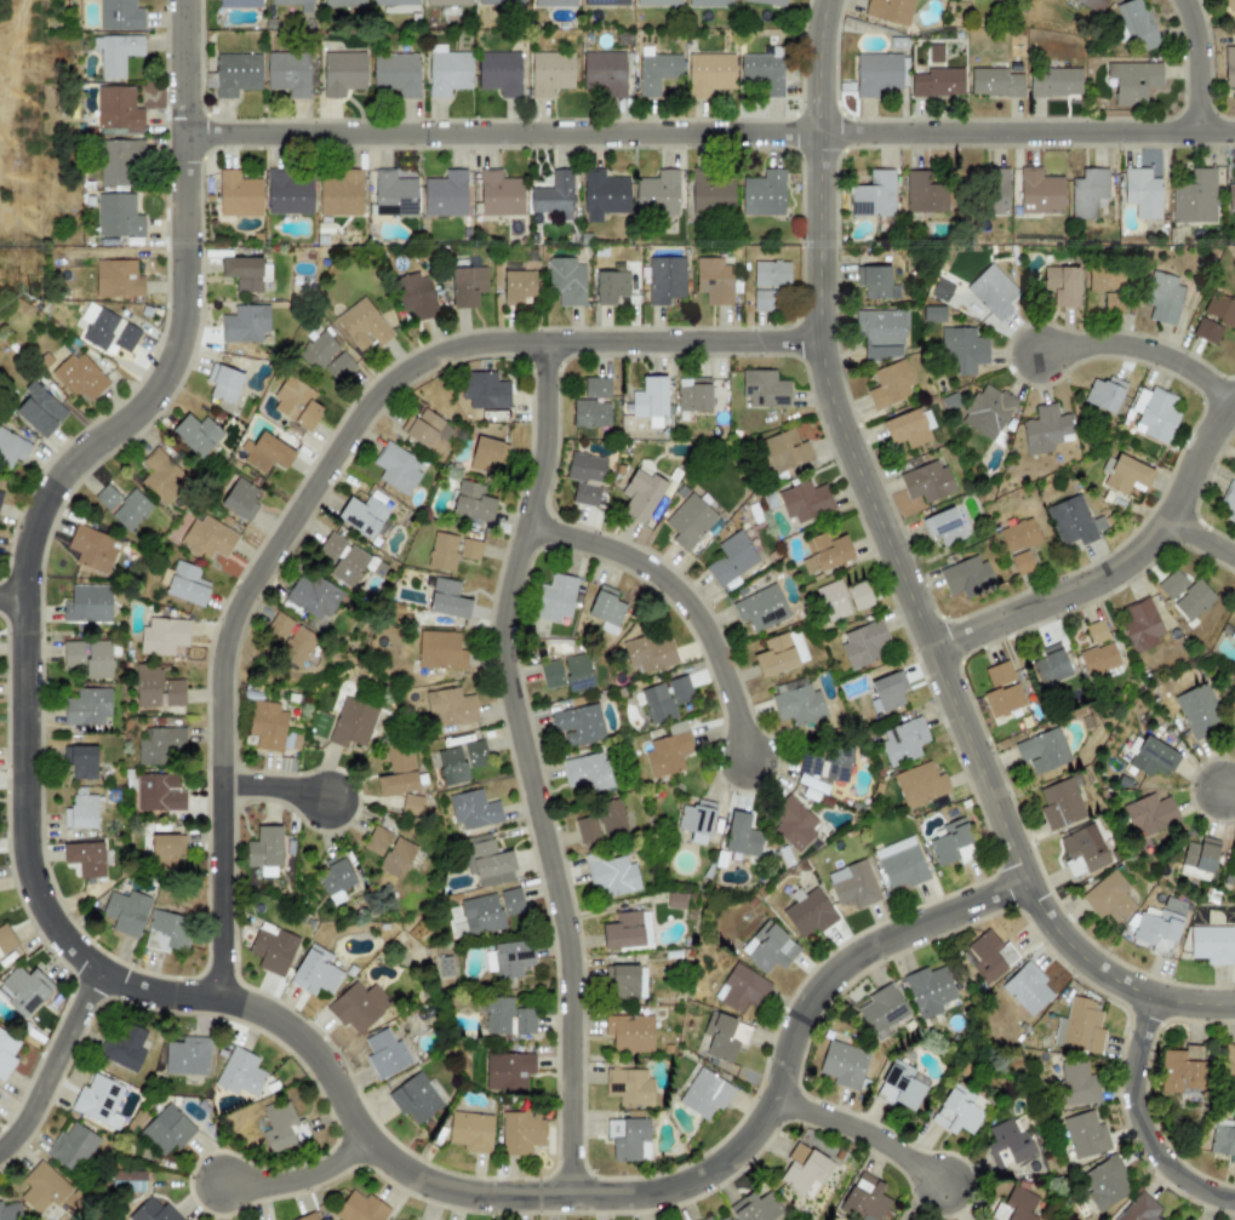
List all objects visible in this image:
building: (291, 1)
building: (501, 1)
building: (607, 1)
building: (657, 1)
building: (395, 2)
building: (450, 2)
building: (768, 2)
building: (239, 4)
building: (344, 4)
building: (555, 4)
building: (709, 4)
building: (1230, 4)
building: (1093, 5)
building: (890, 11)
building: (120, 15)
building: (1134, 24)
building: (116, 53)
road: (1191, 64)
building: (1229, 68)
building: (764, 69)
building: (447, 70)
building: (656, 70)
building: (290, 73)
building: (343, 73)
building: (501, 73)
building: (551, 73)
building: (605, 73)
building: (710, 73)
building: (879, 73)
building: (236, 74)
building: (396, 74)
building: (1132, 81)
building: (937, 82)
building: (994, 82)
building: (1053, 82)
building: (118, 109)
road: (709, 130)
building: (121, 165)
building: (341, 193)
building: (710, 193)
building: (994, 193)
building: (1039, 193)
building: (1087, 193)
building: (1142, 193)
building: (499, 194)
building: (924, 194)
building: (239, 195)
building: (288, 195)
building: (394, 195)
building: (446, 195)
building: (604, 195)
building: (762, 195)
building: (874, 195)
building: (657, 196)
building: (1230, 196)
building: (554, 197)
building: (1194, 199)
building: (119, 217)
building: (244, 274)
building: (771, 274)
building: (118, 280)
building: (665, 280)
building: (714, 281)
building: (566, 283)
building: (875, 283)
building: (467, 286)
building: (1062, 286)
building: (1108, 286)
building: (519, 287)
building: (611, 287)
building: (939, 291)
building: (993, 292)
building: (412, 296)
building: (1163, 299)
building: (765, 300)
building: (1220, 310)
building: (933, 315)
building: (246, 325)
building: (367, 325)
building: (108, 330)
building: (881, 334)
road: (1147, 349)
building: (962, 350)
building: (326, 357)
building: (81, 377)
building: (224, 384)
building: (890, 385)
building: (596, 388)
building: (485, 389)
building: (765, 390)
building: (693, 395)
building: (1104, 395)
building: (650, 399)
building: (297, 402)
building: (39, 411)
building: (987, 412)
building: (1155, 416)
building: (590, 417)
building: (423, 428)
building: (908, 429)
building: (1046, 430)
building: (196, 435)
building: (11, 448)
building: (268, 452)
building: (783, 452)
building: (487, 453)
building: (395, 468)
road: (318, 470)
building: (1126, 475)
building: (160, 477)
building: (587, 479)
building: (927, 482)
building: (0, 494)
building: (641, 494)
building: (475, 499)
building: (239, 500)
building: (1228, 502)
building: (805, 503)
building: (122, 508)
building: (365, 511)
building: (688, 522)
building: (1074, 522)
building: (943, 527)
road: (1205, 535)
building: (1019, 537)
building: (210, 539)
building: (470, 550)
building: (95, 551)
building: (444, 552)
building: (825, 554)
building: (731, 560)
building: (349, 561)
building: (1022, 563)
road: (1116, 571)
road: (899, 573)
building: (967, 578)
building: (185, 583)
building: (1172, 585)
road: (11, 591)
road: (677, 591)
building: (859, 597)
building: (315, 598)
building: (447, 600)
building: (556, 600)
building: (833, 601)
building: (1193, 601)
building: (90, 605)
building: (606, 608)
building: (761, 608)
building: (1142, 626)
building: (278, 628)
building: (1233, 635)
building: (162, 637)
building: (863, 645)
building: (1234, 648)
building: (296, 651)
building: (441, 651)
building: (1098, 652)
building: (650, 653)
building: (781, 654)
building: (88, 658)
building: (1051, 665)
building: (567, 674)
building: (999, 674)
building: (789, 686)
building: (158, 691)
building: (680, 691)
building: (887, 693)
building: (1004, 700)
building: (658, 704)
building: (797, 705)
building: (87, 709)
building: (450, 709)
building: (1197, 712)
building: (353, 724)
building: (579, 724)
building: (267, 726)
building: (902, 741)
building: (158, 745)
building: (1044, 751)
building: (665, 755)
building: (1154, 758)
building: (459, 762)
building: (80, 763)
road: (521, 763)
building: (828, 766)
building: (588, 772)
building: (399, 773)
road: (271, 779)
building: (920, 785)
road: (1231, 785)
building: (159, 794)
building: (1062, 803)
building: (411, 806)
building: (473, 811)
building: (80, 812)
building: (1150, 817)
building: (611, 820)
building: (697, 821)
building: (794, 823)
building: (587, 830)
building: (742, 836)
building: (377, 841)
building: (949, 842)
building: (265, 848)
building: (166, 850)
building: (1082, 850)
building: (85, 859)
building: (398, 859)
building: (1199, 859)
building: (487, 861)
building: (903, 867)
building: (612, 875)
building: (336, 880)
building: (853, 886)
building: (1109, 898)
building: (675, 901)
building: (490, 911)
building: (125, 913)
building: (808, 915)
building: (1159, 928)
building: (167, 932)
building: (628, 932)
building: (5, 940)
building: (1212, 945)
building: (768, 949)
building: (273, 950)
building: (988, 957)
building: (508, 960)
building: (315, 973)
road: (147, 989)
building: (1027, 989)
building: (741, 990)
building: (22, 991)
building: (928, 991)
building: (358, 1007)
building: (882, 1012)
building: (507, 1016)
building: (1080, 1027)
building: (630, 1033)
building: (724, 1037)
building: (125, 1048)
building: (385, 1053)
building: (6, 1054)
road: (51, 1058)
building: (187, 1058)
building: (842, 1065)
building: (1229, 1069)
building: (508, 1071)
building: (1182, 1072)
building: (240, 1073)
building: (1076, 1086)
building: (630, 1088)
building: (899, 1088)
building: (704, 1094)
building: (414, 1099)
building: (98, 1101)
building: (955, 1115)
road: (1140, 1118)
building: (282, 1126)
road: (862, 1128)
building: (166, 1130)
building: (470, 1132)
building: (521, 1133)
building: (1084, 1136)
building: (1223, 1138)
building: (624, 1139)
building: (1005, 1146)
building: (72, 1149)
building: (805, 1172)
road: (297, 1174)
building: (131, 1181)
building: (1104, 1184)
building: (42, 1189)
building: (863, 1199)
building: (1018, 1204)
building: (360, 1208)
building: (755, 1208)
building: (1139, 1209)
building: (8, 1212)
building: (153, 1212)
building: (308, 1216)
building: (707, 1219)
building: (725, 1219)

